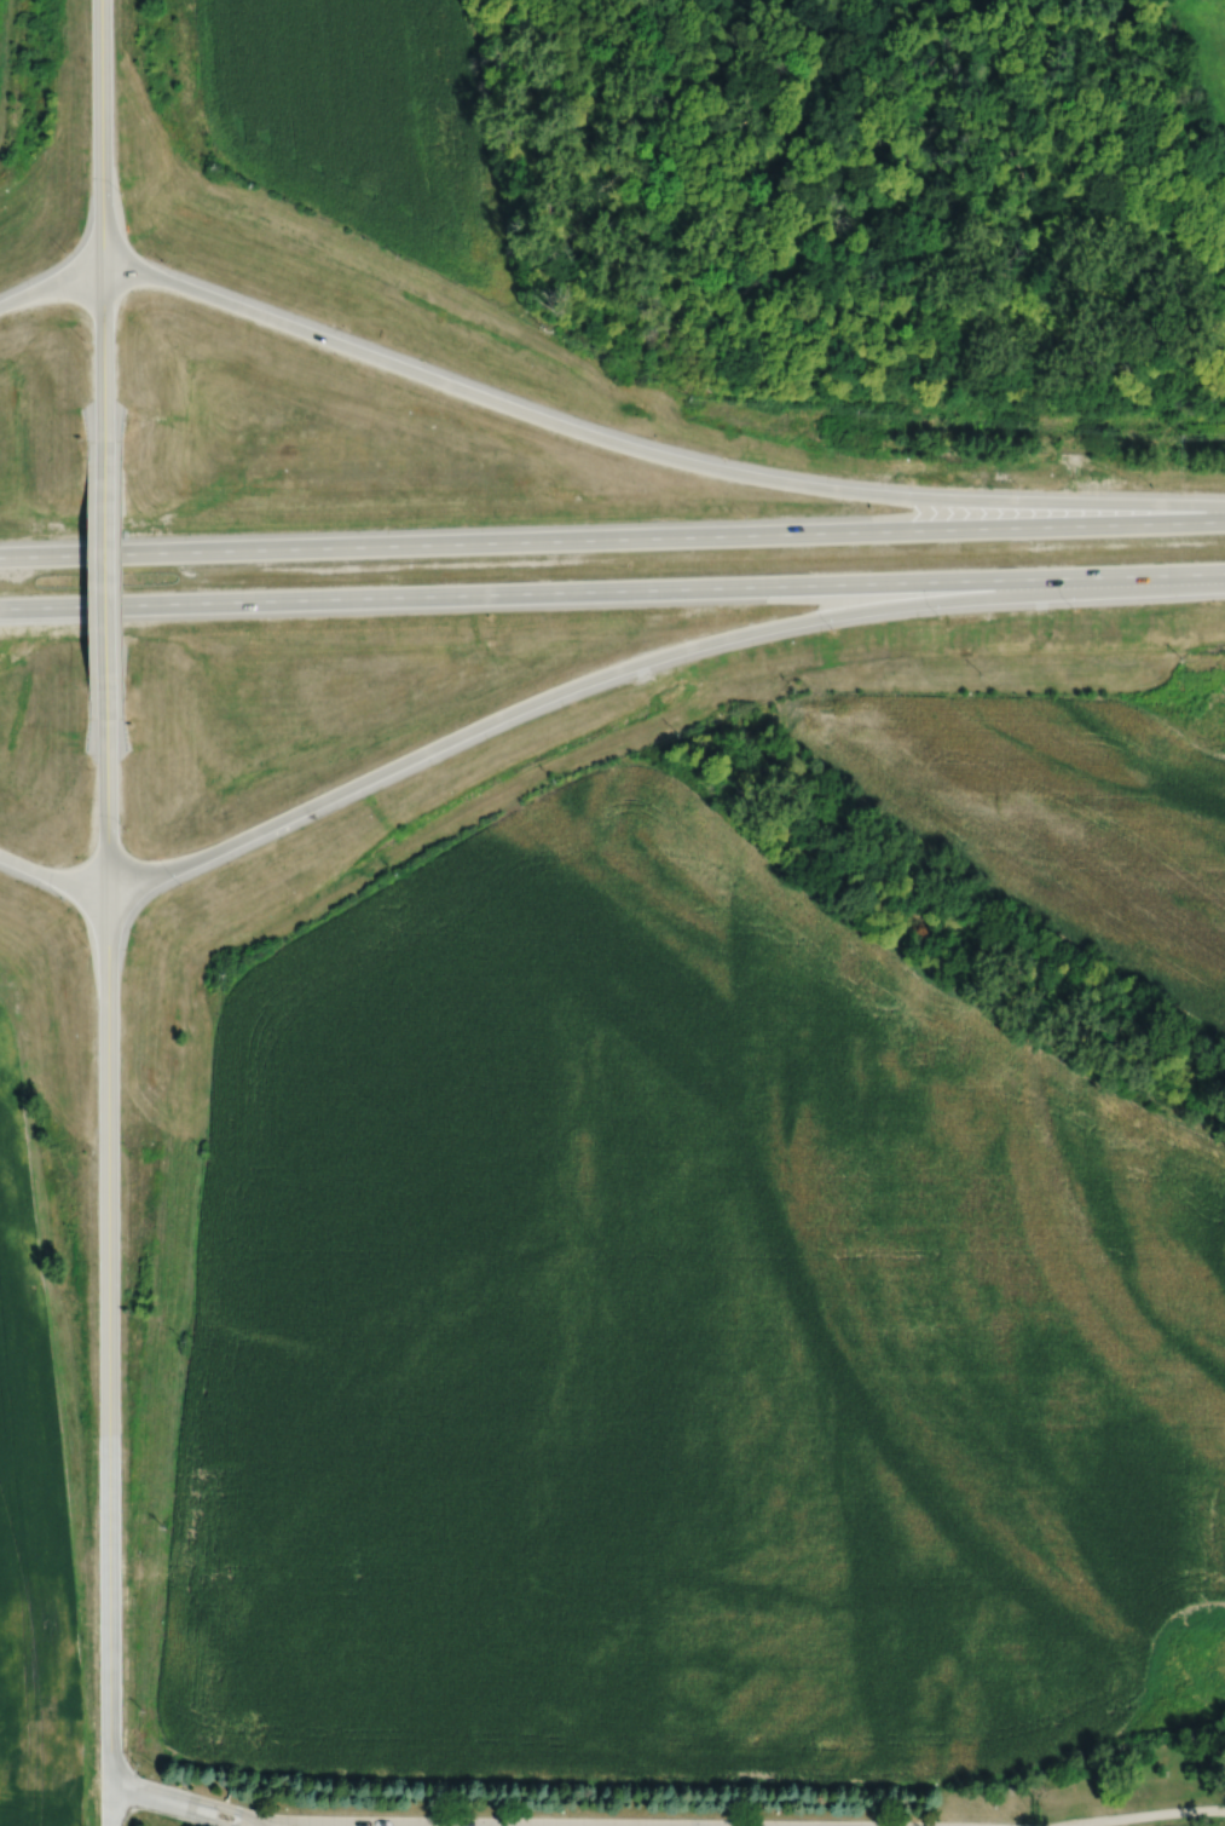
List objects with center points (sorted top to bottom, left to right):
road: (1, 24)
road: (100, 133)
street lamp: (122, 189)
street lamp: (56, 246)
street lamp: (164, 257)
road: (50, 283)
street lamp: (82, 339)
road: (103, 364)
road: (649, 454)
street lamp: (912, 480)
street lamp: (1018, 483)
street lamp: (1154, 484)
street lamp: (746, 513)
road: (612, 537)
road: (105, 577)
road: (612, 589)
street lamp: (1074, 611)
street lamp: (941, 617)
street lamp: (836, 629)
road: (646, 658)
road: (106, 788)
crop: (1056, 811)
street lamp: (127, 825)
road: (52, 875)
street lamp: (181, 882)
street lamp: (63, 897)
street lamp: (79, 944)
road: (109, 1330)
crop: (680, 1344)
crop: (31, 1515)
street lamp: (135, 1765)
road: (109, 1802)
road: (167, 1809)
road: (239, 1813)
road: (1145, 1815)
building: (225, 1816)
road: (266, 1825)
road: (268, 1825)

